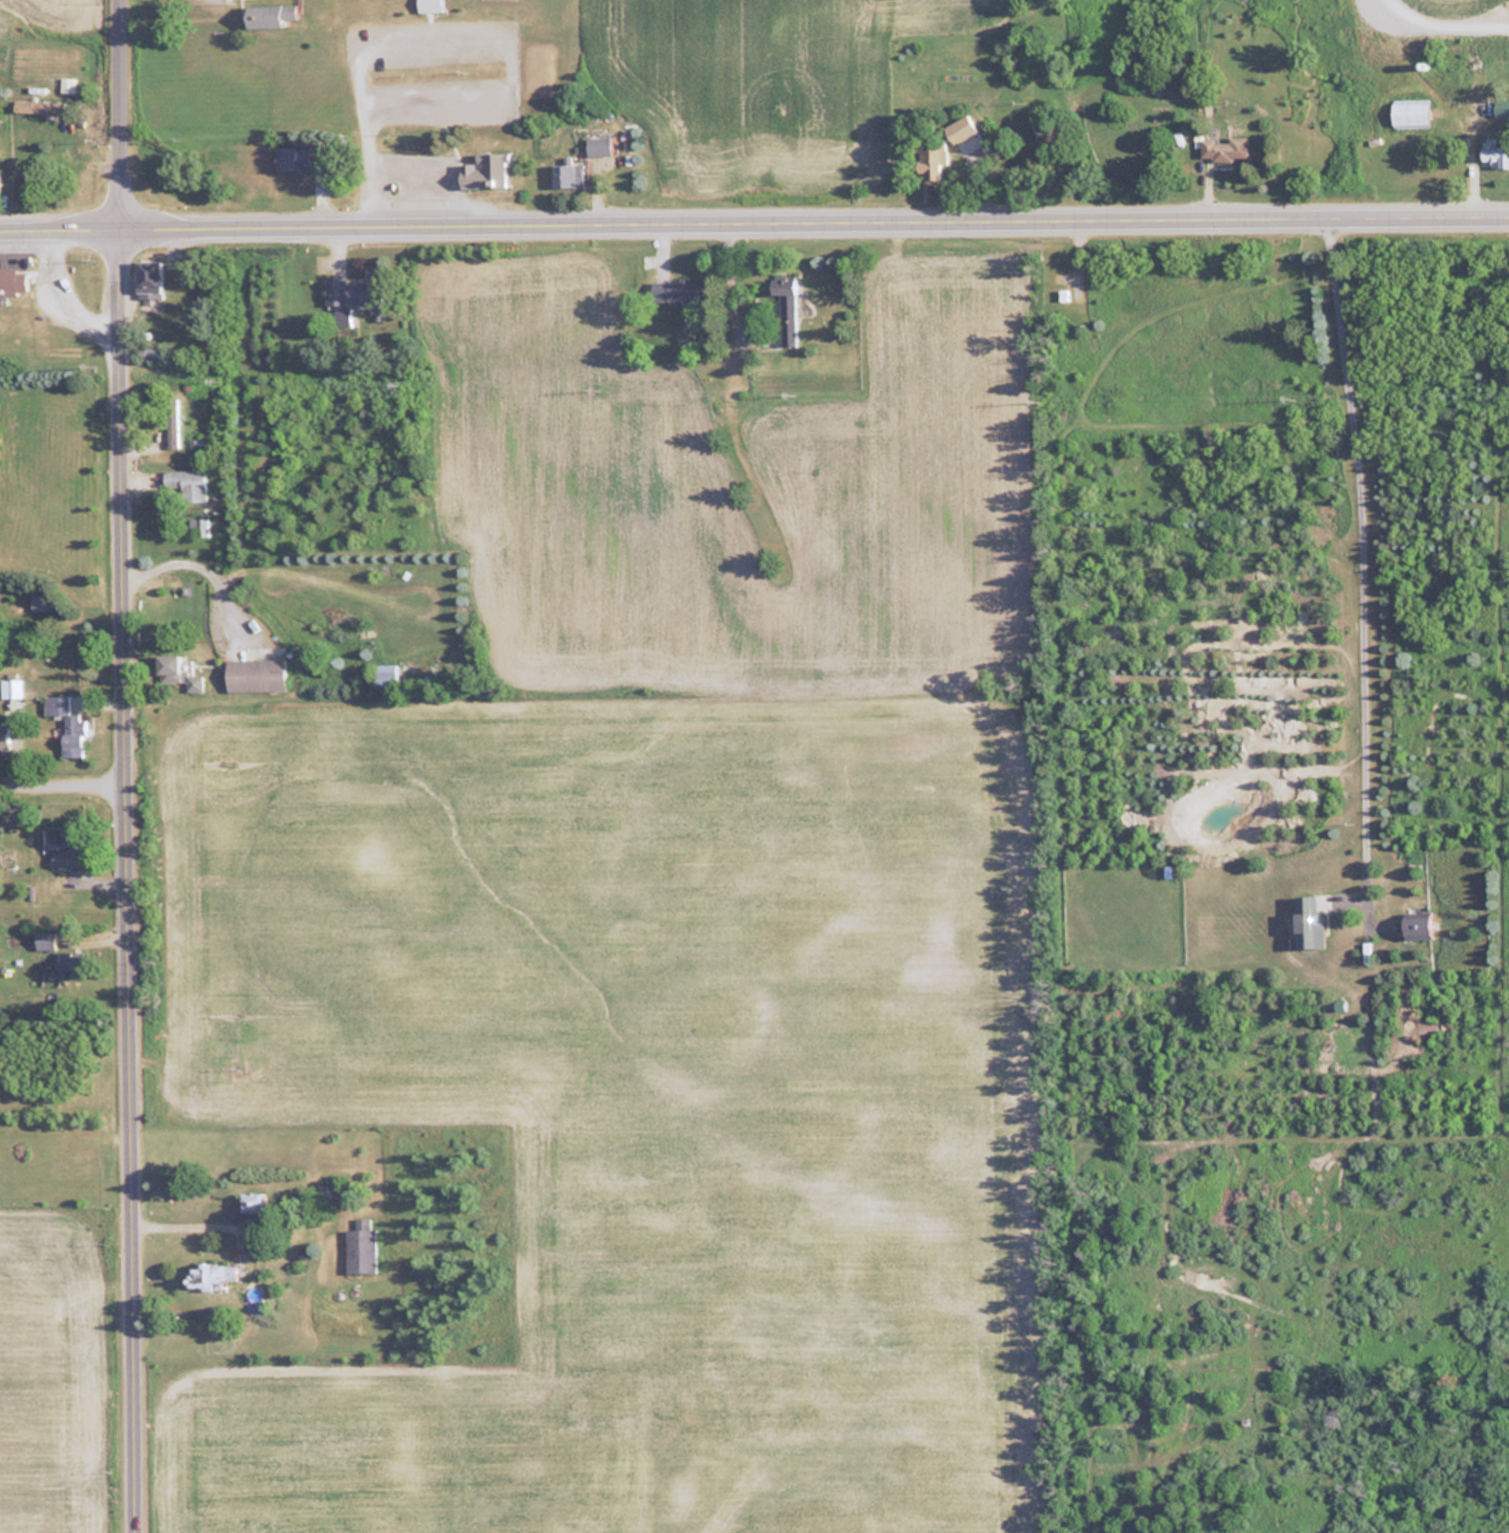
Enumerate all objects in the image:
building: (268, 16)
building: (66, 84)
building: (37, 106)
building: (1409, 112)
building: (958, 129)
building: (597, 146)
building: (1223, 149)
building: (1496, 155)
building: (298, 157)
building: (929, 163)
building: (489, 170)
building: (567, 175)
road: (754, 224)
building: (147, 277)
building: (12, 282)
building: (674, 290)
building: (350, 291)
building: (1061, 294)
building: (821, 301)
building: (785, 313)
building: (341, 316)
building: (154, 352)
building: (170, 421)
building: (185, 482)
building: (197, 525)
road: (1360, 561)
building: (40, 602)
building: (177, 671)
building: (253, 673)
building: (384, 673)
building: (66, 725)
building: (5, 739)
road: (128, 766)
road: (64, 791)
building: (71, 847)
building: (1308, 922)
building: (1417, 926)
building: (45, 941)
building: (330, 1191)
building: (361, 1247)
building: (209, 1275)

